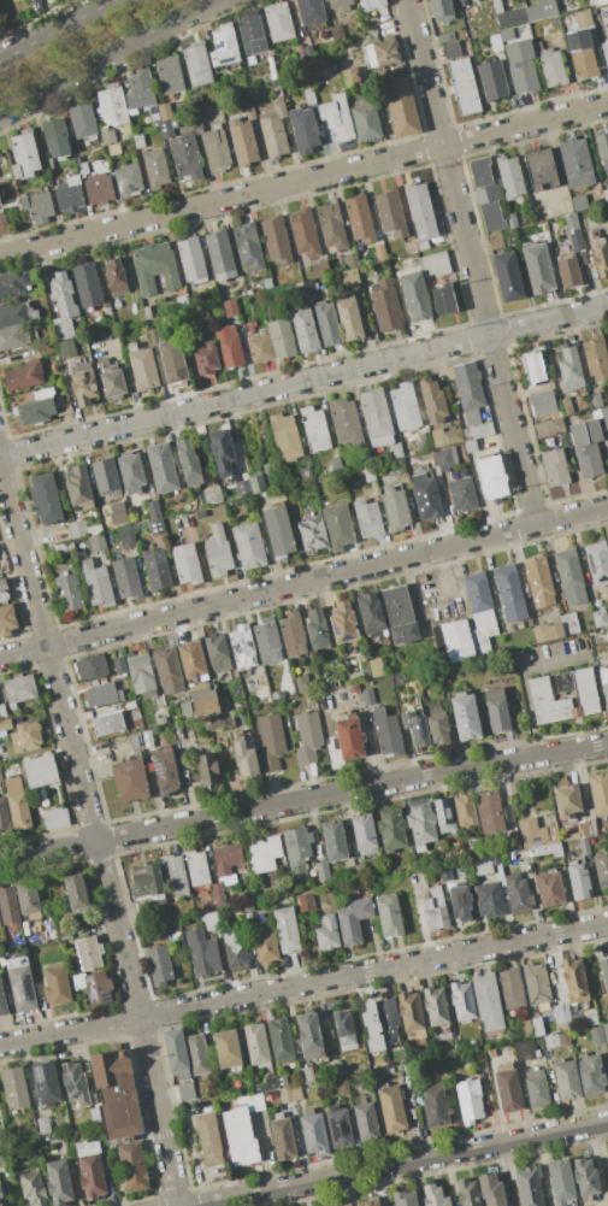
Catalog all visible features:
building: (601, 1)
building: (371, 4)
building: (35, 5)
building: (340, 5)
building: (497, 6)
building: (441, 10)
building: (541, 10)
building: (309, 11)
building: (510, 17)
building: (583, 18)
building: (278, 22)
road: (57, 30)
building: (250, 33)
building: (443, 37)
building: (495, 42)
building: (224, 45)
building: (450, 51)
building: (382, 53)
building: (580, 53)
building: (604, 53)
building: (299, 54)
building: (309, 54)
road: (105, 55)
building: (196, 64)
building: (521, 66)
building: (551, 67)
building: (170, 75)
building: (491, 80)
building: (462, 86)
building: (140, 89)
building: (309, 95)
building: (195, 102)
building: (110, 105)
building: (402, 105)
building: (164, 111)
building: (249, 112)
building: (154, 114)
building: (336, 117)
building: (365, 118)
building: (82, 120)
building: (53, 128)
building: (165, 129)
building: (303, 129)
building: (275, 133)
building: (107, 136)
building: (138, 140)
building: (242, 142)
building: (58, 147)
building: (216, 148)
building: (602, 148)
building: (113, 149)
building: (24, 154)
building: (185, 155)
building: (575, 161)
building: (48, 165)
building: (155, 167)
building: (541, 169)
building: (82, 170)
building: (480, 172)
building: (509, 176)
road: (303, 178)
building: (128, 180)
building: (98, 188)
building: (492, 193)
building: (69, 194)
building: (606, 195)
building: (11, 201)
building: (578, 202)
building: (36, 207)
building: (420, 210)
building: (391, 212)
building: (491, 216)
building: (359, 218)
building: (510, 219)
building: (571, 222)
building: (4, 224)
building: (330, 227)
building: (303, 233)
building: (276, 240)
building: (495, 241)
building: (423, 245)
building: (248, 247)
building: (379, 252)
building: (220, 255)
building: (600, 257)
building: (191, 260)
building: (352, 260)
road: (471, 261)
building: (435, 264)
building: (538, 267)
building: (154, 269)
building: (320, 269)
building: (568, 271)
building: (349, 276)
building: (507, 276)
building: (116, 277)
building: (13, 282)
building: (87, 284)
building: (306, 287)
building: (415, 295)
building: (443, 299)
building: (182, 302)
building: (63, 305)
building: (385, 305)
building: (231, 307)
building: (150, 311)
building: (12, 314)
building: (129, 317)
building: (348, 318)
building: (327, 323)
building: (303, 329)
building: (92, 336)
building: (13, 337)
building: (281, 339)
building: (259, 345)
building: (228, 346)
building: (607, 346)
building: (66, 349)
building: (170, 357)
building: (206, 357)
building: (596, 357)
building: (533, 367)
building: (569, 367)
building: (143, 369)
building: (24, 375)
road: (303, 381)
building: (112, 383)
building: (82, 384)
building: (468, 392)
building: (596, 400)
building: (432, 401)
building: (542, 401)
building: (405, 406)
building: (566, 407)
building: (42, 408)
building: (374, 412)
building: (604, 417)
building: (344, 420)
building: (548, 428)
building: (314, 429)
building: (477, 431)
building: (285, 437)
building: (451, 437)
building: (424, 442)
building: (471, 446)
building: (586, 447)
building: (396, 451)
building: (222, 452)
building: (445, 458)
building: (429, 459)
building: (189, 463)
building: (555, 466)
building: (161, 467)
building: (395, 469)
building: (130, 473)
building: (368, 475)
building: (491, 476)
building: (107, 477)
building: (255, 483)
building: (78, 487)
building: (462, 494)
building: (213, 495)
building: (425, 496)
building: (45, 498)
building: (153, 508)
building: (395, 508)
building: (101, 512)
building: (200, 513)
building: (367, 518)
building: (337, 525)
building: (157, 526)
building: (77, 529)
building: (94, 530)
building: (278, 530)
building: (126, 535)
building: (312, 535)
building: (96, 543)
building: (248, 546)
building: (61, 548)
building: (217, 551)
building: (597, 561)
building: (187, 564)
building: (157, 570)
road: (443, 572)
building: (569, 576)
building: (126, 578)
road: (303, 582)
building: (539, 582)
building: (98, 583)
building: (4, 590)
building: (509, 593)
building: (70, 594)
building: (371, 613)
building: (399, 613)
building: (600, 618)
building: (7, 619)
building: (343, 623)
building: (484, 623)
building: (568, 624)
building: (317, 630)
building: (548, 631)
building: (607, 633)
building: (291, 635)
building: (267, 641)
building: (241, 648)
building: (218, 657)
building: (191, 660)
building: (119, 665)
building: (90, 666)
building: (374, 667)
building: (167, 670)
building: (141, 675)
road: (523, 678)
building: (563, 682)
building: (604, 686)
building: (18, 688)
building: (584, 690)
building: (102, 694)
building: (261, 695)
building: (367, 698)
building: (203, 700)
building: (547, 701)
building: (496, 710)
building: (185, 711)
building: (2, 713)
building: (160, 717)
building: (465, 717)
building: (5, 723)
building: (107, 724)
building: (437, 725)
building: (415, 726)
building: (176, 731)
building: (386, 733)
building: (28, 734)
building: (307, 737)
building: (348, 737)
building: (270, 741)
building: (243, 759)
building: (207, 769)
building: (40, 770)
building: (165, 771)
building: (129, 781)
building: (600, 793)
road: (303, 799)
building: (567, 800)
building: (18, 807)
building: (465, 811)
building: (490, 813)
building: (4, 816)
building: (443, 816)
building: (55, 818)
building: (421, 823)
building: (586, 828)
building: (390, 829)
building: (531, 833)
building: (362, 834)
road: (94, 836)
building: (569, 836)
building: (333, 841)
building: (583, 846)
building: (296, 849)
building: (547, 849)
building: (262, 854)
building: (229, 864)
building: (480, 866)
building: (196, 867)
building: (601, 869)
building: (321, 871)
building: (444, 871)
building: (175, 876)
building: (578, 878)
building: (148, 884)
building: (549, 889)
building: (76, 892)
building: (217, 893)
building: (516, 893)
building: (28, 900)
building: (488, 900)
building: (460, 901)
building: (305, 902)
road: (537, 902)
building: (248, 906)
building: (8, 908)
building: (433, 910)
building: (389, 916)
building: (353, 919)
building: (208, 923)
building: (285, 929)
building: (327, 933)
building: (265, 945)
building: (235, 951)
building: (88, 953)
building: (200, 958)
building: (159, 966)
building: (604, 972)
building: (573, 979)
road: (303, 983)
building: (536, 983)
building: (20, 984)
building: (55, 984)
building: (98, 988)
building: (509, 988)
building: (461, 1000)
building: (2, 1001)
building: (488, 1002)
building: (435, 1006)
building: (561, 1013)
building: (411, 1014)
building: (388, 1017)
building: (589, 1020)
building: (537, 1025)
building: (525, 1028)
building: (550, 1029)
building: (344, 1030)
building: (606, 1031)
building: (596, 1035)
building: (309, 1036)
building: (563, 1039)
building: (281, 1041)
building: (551, 1041)
building: (256, 1045)
building: (226, 1048)
building: (524, 1049)
building: (199, 1054)
building: (178, 1063)
building: (590, 1073)
building: (305, 1075)
building: (374, 1077)
building: (567, 1079)
building: (281, 1081)
building: (51, 1086)
building: (78, 1086)
building: (342, 1086)
building: (264, 1087)
building: (508, 1087)
building: (537, 1088)
building: (17, 1090)
building: (289, 1094)
building: (122, 1096)
building: (360, 1099)
building: (470, 1100)
building: (250, 1104)
building: (436, 1106)
building: (391, 1108)
building: (362, 1124)
building: (45, 1128)
building: (335, 1129)
building: (309, 1135)
building: (235, 1139)
building: (278, 1140)
building: (206, 1141)
building: (0, 1155)
building: (607, 1155)
road: (397, 1165)
building: (89, 1169)
building: (135, 1169)
road: (545, 1171)
building: (586, 1178)
building: (58, 1182)
building: (561, 1182)
building: (529, 1186)
building: (33, 1188)
building: (490, 1189)
building: (1, 1192)
building: (467, 1193)
building: (433, 1196)
building: (403, 1199)
building: (368, 1202)
building: (1, 1204)
building: (309, 1205)
building: (346, 1205)

